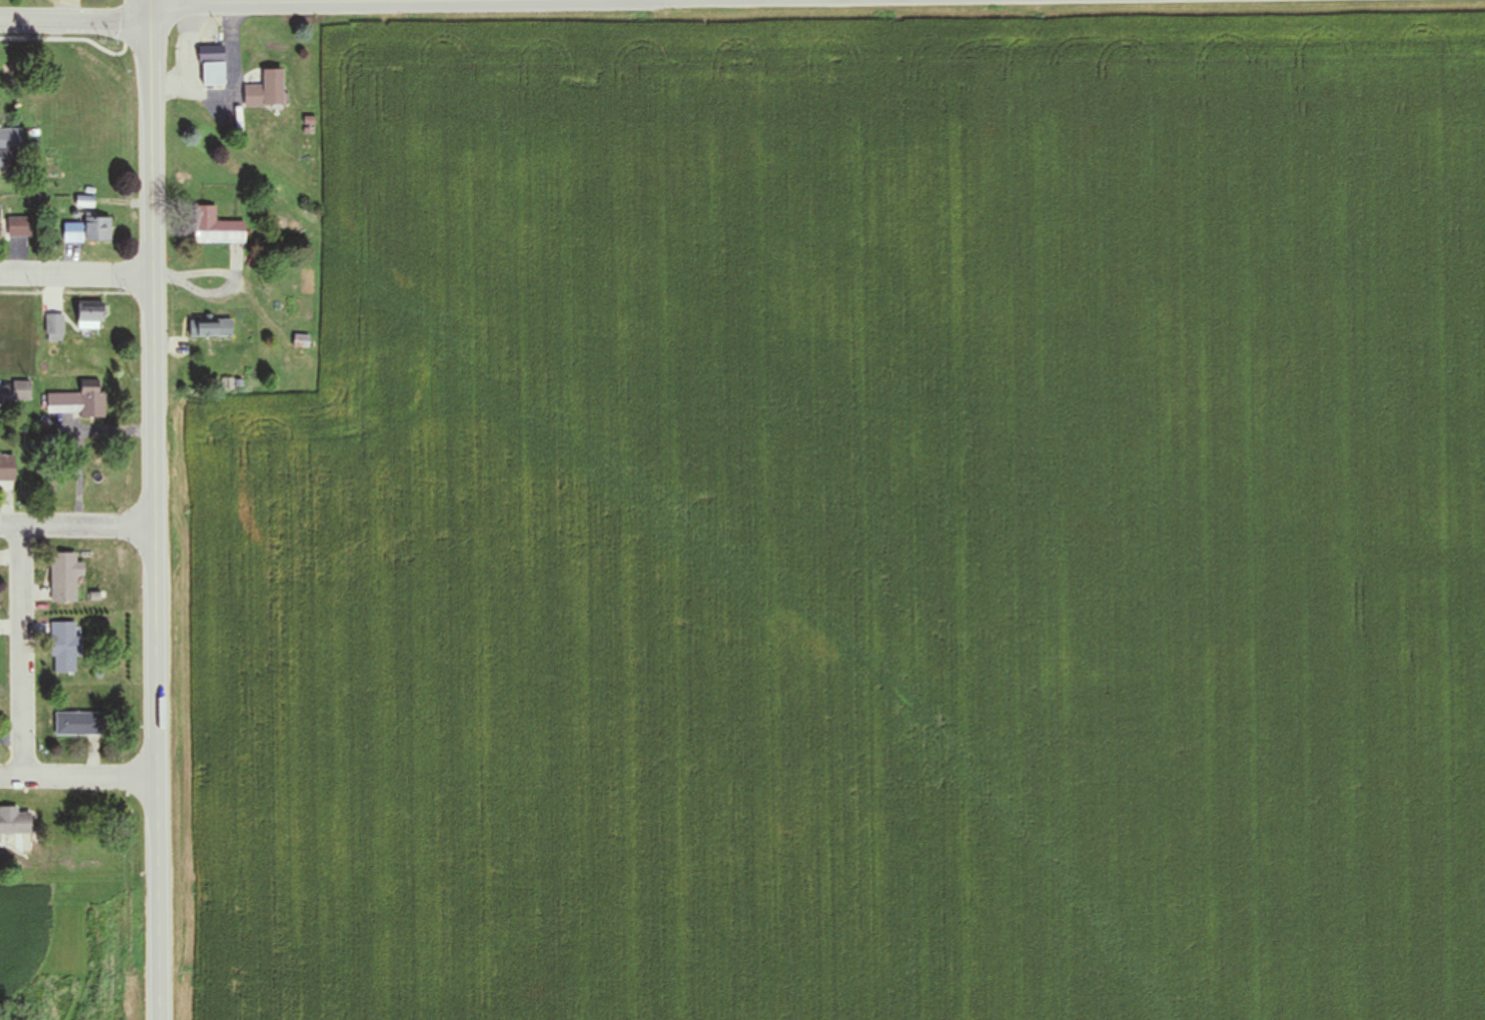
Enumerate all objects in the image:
building: (46, 0)
road: (596, 1)
road: (439, 4)
road: (150, 12)
road: (75, 24)
building: (212, 65)
building: (266, 89)
building: (10, 148)
building: (21, 225)
building: (216, 227)
building: (87, 229)
road: (76, 274)
building: (90, 314)
building: (5, 324)
building: (54, 327)
building: (214, 329)
building: (302, 341)
building: (21, 391)
building: (80, 400)
building: (6, 468)
road: (154, 522)
road: (77, 526)
building: (64, 577)
building: (64, 648)
road: (24, 650)
building: (79, 724)
road: (79, 776)
building: (15, 823)

